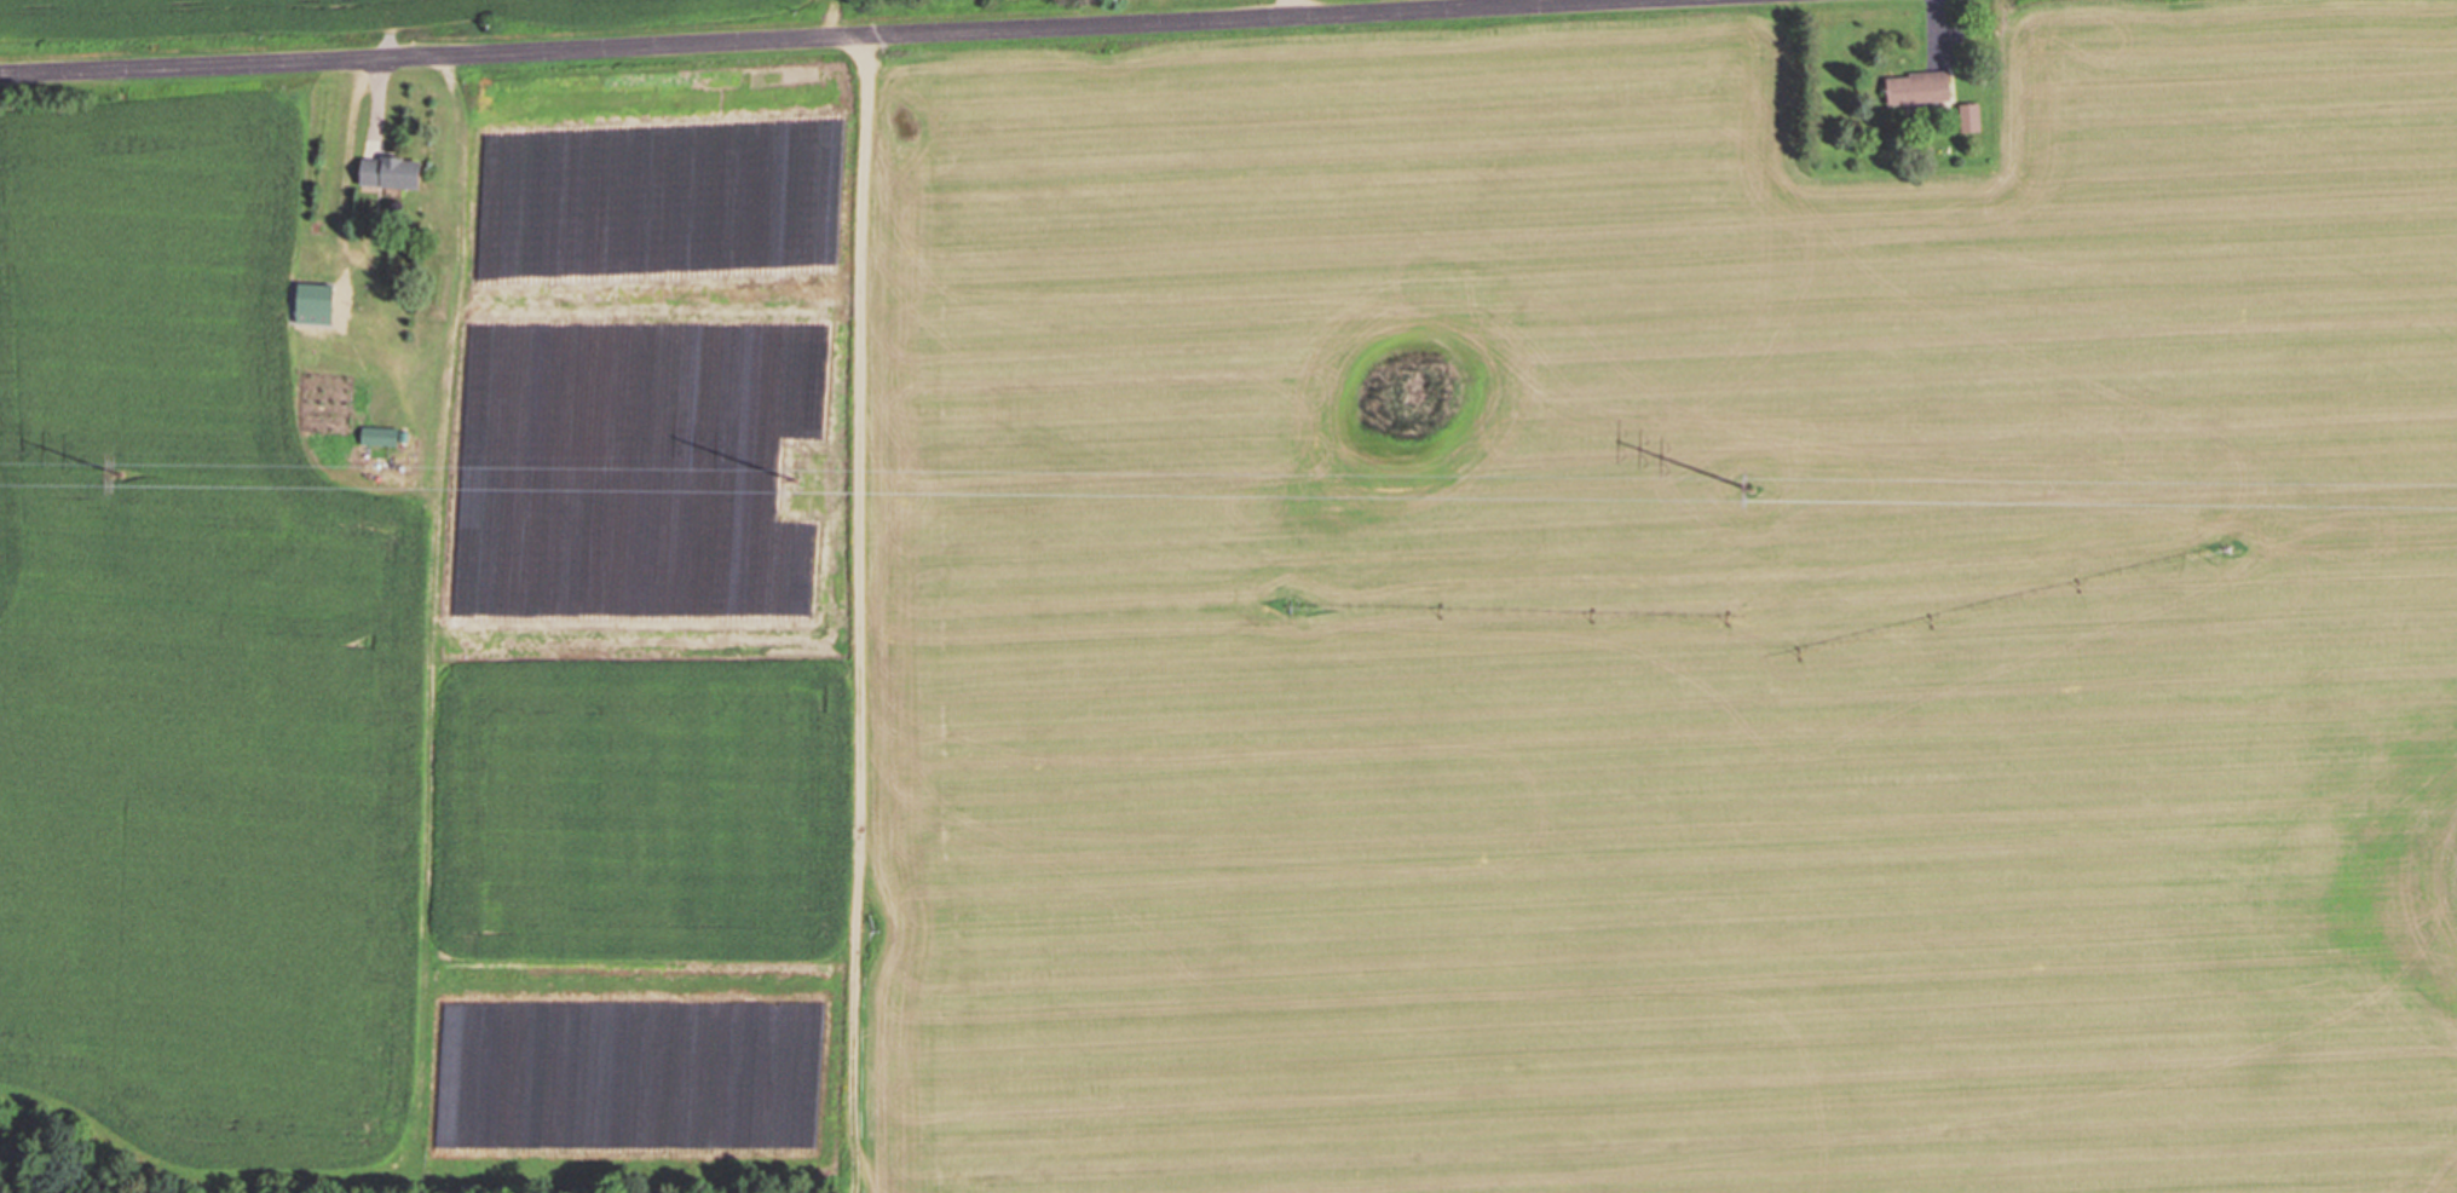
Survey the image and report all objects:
road: (831, 36)
building: (1915, 88)
building: (1968, 119)
building: (385, 171)
building: (377, 436)
power tower: (120, 472)
power tower: (794, 479)
power tower: (1752, 490)

